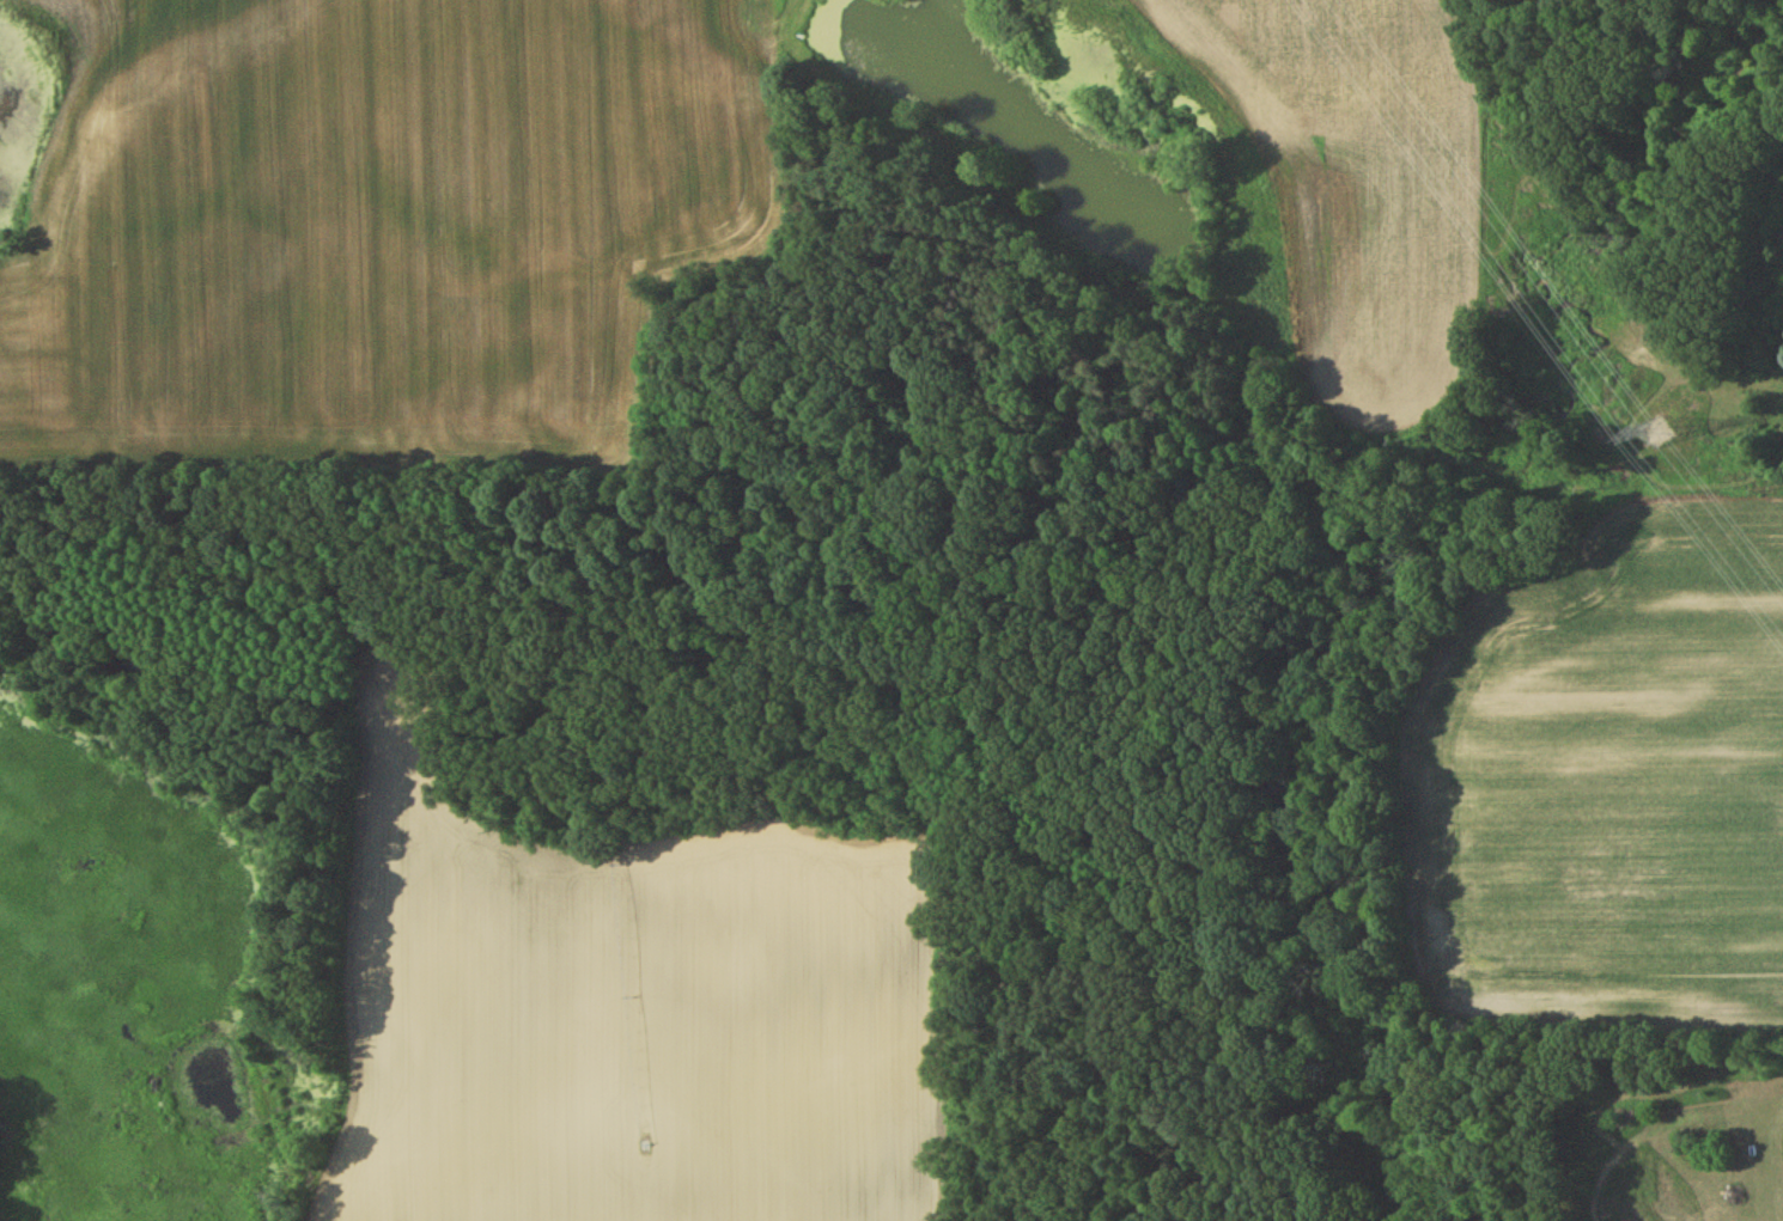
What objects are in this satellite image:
power tower: (1660, 435)

